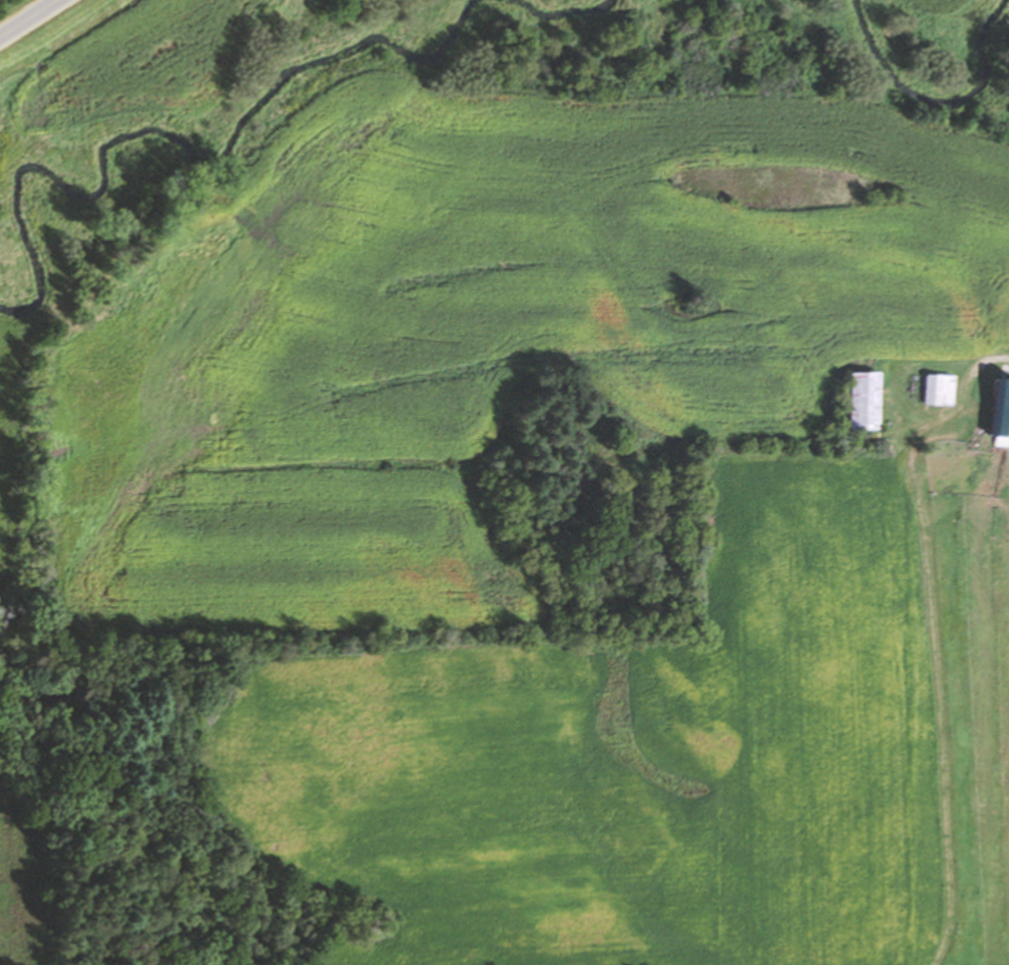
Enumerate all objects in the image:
road: (29, 18)
road: (972, 362)
building: (934, 387)
building: (859, 399)
building: (998, 407)

